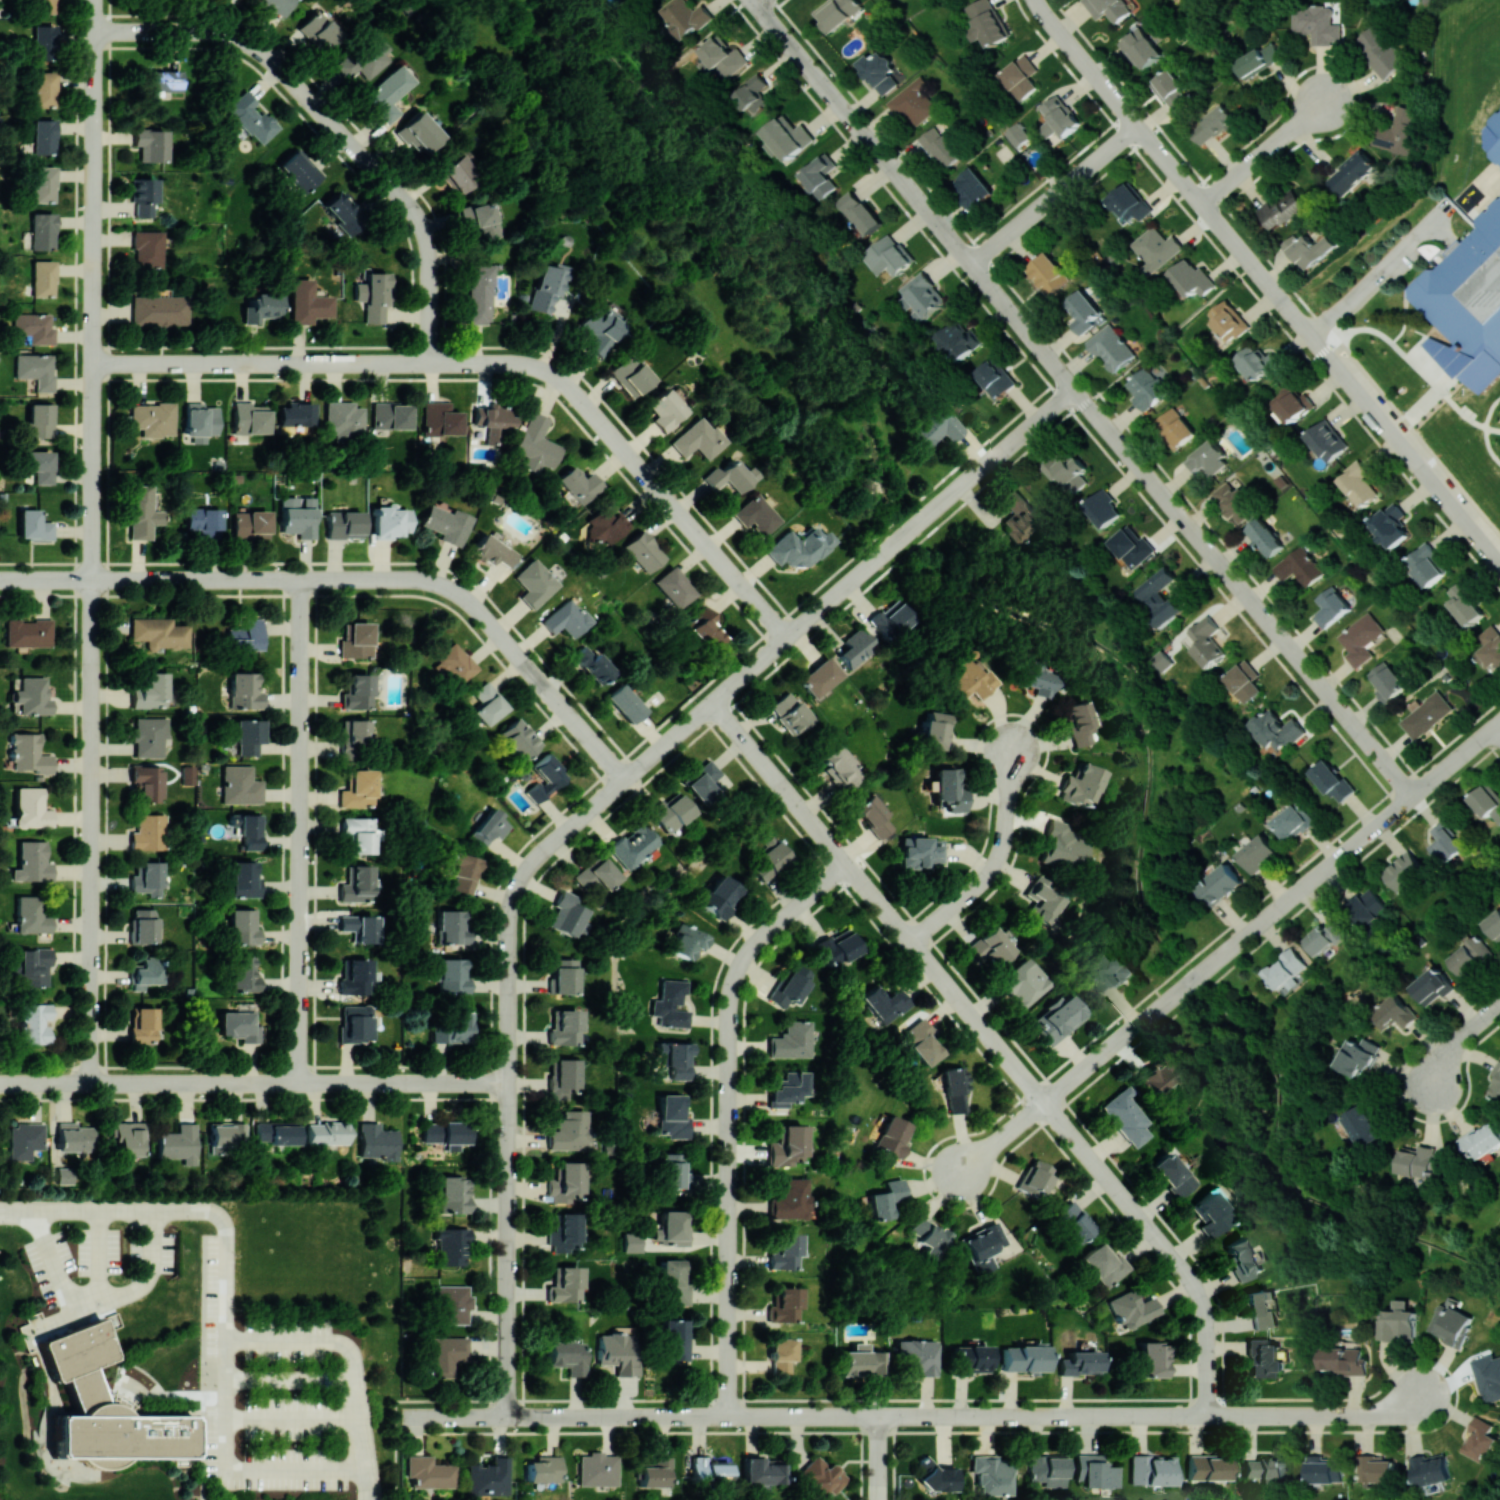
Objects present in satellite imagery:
road: (759, 2)
road: (780, 2)
building: (42, 6)
building: (278, 6)
building: (1108, 8)
building: (836, 12)
road: (95, 16)
building: (685, 16)
building: (987, 22)
building: (1315, 23)
building: (318, 31)
road: (697, 38)
building: (42, 42)
building: (1140, 47)
building: (1380, 52)
building: (364, 57)
building: (722, 58)
building: (1258, 59)
building: (878, 71)
building: (1021, 76)
building: (1498, 80)
building: (165, 81)
road: (639, 86)
building: (42, 89)
building: (1171, 89)
building: (389, 93)
building: (754, 94)
road: (626, 97)
building: (1479, 102)
building: (1059, 117)
building: (252, 118)
road: (334, 124)
building: (1214, 124)
building: (1496, 124)
building: (1397, 130)
building: (420, 133)
building: (1016, 133)
building: (42, 136)
building: (787, 137)
building: (149, 143)
building: (943, 147)
road: (1263, 151)
road: (1157, 154)
building: (1496, 155)
building: (300, 170)
building: (458, 172)
building: (1350, 173)
building: (820, 175)
building: (42, 184)
building: (973, 187)
building: (142, 196)
road: (1052, 196)
building: (1129, 203)
building: (1282, 209)
building: (343, 212)
building: (859, 212)
road: (1434, 216)
building: (480, 219)
building: (41, 230)
road: (1440, 232)
building: (146, 248)
building: (1156, 249)
building: (1309, 249)
building: (888, 255)
road: (1275, 268)
building: (1047, 273)
building: (1191, 277)
building: (42, 278)
road: (1370, 279)
building: (548, 288)
building: (479, 294)
building: (1470, 294)
building: (921, 295)
building: (372, 296)
building: (305, 302)
road: (94, 306)
building: (259, 307)
building: (158, 310)
building: (1083, 312)
building: (1228, 320)
building: (33, 327)
building: (599, 329)
building: (958, 339)
building: (1111, 348)
road: (1407, 357)
road: (1046, 358)
building: (1258, 362)
road: (501, 364)
building: (35, 370)
building: (629, 375)
building: (996, 378)
road: (1351, 386)
building: (1145, 387)
road: (1440, 390)
building: (1292, 403)
building: (665, 409)
building: (297, 414)
building: (391, 415)
building: (493, 417)
building: (153, 418)
building: (250, 418)
building: (440, 418)
building: (39, 420)
building: (200, 421)
building: (343, 421)
building: (935, 426)
building: (1175, 427)
road: (1484, 428)
building: (698, 438)
building: (1327, 440)
building: (537, 444)
building: (1207, 459)
building: (39, 465)
building: (1067, 471)
road: (977, 472)
building: (727, 476)
building: (1358, 484)
building: (578, 486)
building: (1235, 502)
building: (1102, 508)
building: (140, 511)
building: (755, 514)
road: (1460, 514)
building: (297, 516)
building: (1022, 518)
building: (203, 521)
building: (389, 521)
building: (344, 524)
building: (447, 524)
building: (1391, 524)
building: (33, 525)
building: (250, 525)
building: (606, 525)
building: (1264, 537)
building: (1131, 546)
building: (798, 548)
building: (492, 550)
building: (643, 551)
building: (1427, 564)
building: (1299, 566)
road: (860, 576)
road: (217, 580)
building: (534, 582)
building: (674, 587)
park: (951, 591)
building: (1161, 595)
building: (1465, 604)
building: (1330, 606)
building: (566, 618)
building: (891, 619)
road: (491, 624)
building: (706, 627)
building: (28, 632)
building: (159, 632)
building: (245, 635)
building: (1360, 638)
building: (355, 640)
building: (1207, 641)
building: (1491, 646)
building: (855, 648)
building: (1161, 660)
building: (592, 663)
building: (454, 664)
building: (820, 677)
building: (967, 680)
building: (1039, 680)
building: (1244, 681)
building: (1389, 681)
road: (541, 683)
building: (150, 691)
building: (242, 691)
building: (356, 691)
building: (32, 696)
building: (489, 703)
building: (625, 703)
building: (789, 712)
building: (1426, 714)
building: (1078, 722)
road: (692, 723)
road: (1353, 726)
road: (1497, 729)
building: (935, 730)
building: (1276, 730)
building: (355, 732)
road: (586, 734)
building: (247, 735)
building: (149, 736)
building: (520, 738)
building: (28, 753)
road: (1386, 765)
building: (838, 767)
building: (187, 774)
building: (546, 777)
building: (1332, 780)
building: (147, 782)
building: (703, 782)
building: (239, 785)
building: (1081, 785)
building: (949, 788)
building: (357, 789)
building: (1487, 801)
building: (30, 808)
building: (670, 811)
building: (872, 816)
building: (1293, 822)
building: (489, 827)
building: (247, 829)
road: (92, 831)
road: (301, 831)
building: (149, 832)
building: (358, 833)
building: (1443, 843)
building: (633, 845)
building: (1063, 846)
building: (921, 851)
building: (1258, 853)
building: (770, 857)
road: (1330, 859)
building: (31, 862)
road: (997, 862)
building: (1402, 870)
building: (464, 871)
building: (596, 875)
building: (147, 878)
building: (244, 879)
building: (355, 883)
building: (1220, 884)
building: (721, 896)
building: (1043, 897)
building: (1367, 907)
building: (567, 914)
building: (31, 915)
building: (144, 925)
building: (1494, 925)
building: (242, 926)
building: (359, 927)
building: (452, 927)
building: (1324, 936)
building: (686, 941)
building: (989, 946)
building: (838, 947)
building: (1472, 955)
building: (33, 967)
building: (1285, 970)
building: (1111, 972)
building: (146, 973)
building: (243, 973)
building: (452, 975)
building: (563, 975)
building: (354, 976)
building: (1023, 982)
building: (790, 985)
building: (1432, 986)
building: (884, 1003)
building: (671, 1004)
road: (1151, 1012)
building: (1394, 1012)
building: (1058, 1018)
building: (355, 1022)
building: (34, 1023)
building: (240, 1023)
building: (143, 1025)
building: (563, 1026)
building: (452, 1029)
road: (1455, 1039)
building: (791, 1040)
building: (922, 1042)
road: (998, 1045)
building: (1358, 1056)
building: (676, 1058)
road: (1092, 1063)
building: (1162, 1073)
building: (561, 1077)
building: (1496, 1082)
road: (255, 1083)
building: (955, 1088)
building: (787, 1089)
building: (673, 1116)
road: (731, 1116)
building: (1126, 1116)
building: (1365, 1125)
road: (509, 1128)
building: (570, 1131)
building: (327, 1132)
building: (276, 1133)
building: (446, 1133)
building: (128, 1136)
building: (225, 1136)
building: (893, 1136)
building: (74, 1137)
building: (24, 1140)
building: (1481, 1140)
building: (377, 1141)
road: (999, 1141)
building: (178, 1143)
building: (786, 1146)
building: (1417, 1161)
building: (673, 1171)
building: (1172, 1174)
building: (1036, 1178)
building: (565, 1182)
road: (927, 1185)
building: (454, 1194)
building: (790, 1199)
building: (885, 1199)
road: (172, 1210)
building: (1211, 1213)
building: (1073, 1223)
building: (671, 1227)
building: (563, 1232)
building: (930, 1236)
building: (632, 1242)
building: (452, 1245)
building: (983, 1247)
road: (97, 1252)
building: (784, 1252)
building: (1241, 1257)
building: (1105, 1264)
building: (673, 1282)
building: (565, 1284)
road: (99, 1294)
building: (453, 1304)
building: (785, 1304)
building: (1133, 1308)
building: (1260, 1309)
building: (1399, 1322)
building: (1451, 1324)
building: (674, 1339)
building: (618, 1352)
building: (447, 1354)
building: (780, 1355)
building: (567, 1356)
building: (917, 1356)
building: (1023, 1358)
building: (971, 1359)
building: (1153, 1359)
building: (1264, 1359)
building: (862, 1360)
building: (1342, 1360)
road: (353, 1361)
building: (1079, 1363)
road: (1447, 1371)
building: (1488, 1376)
road: (291, 1377)
building: (105, 1405)
road: (695, 1416)
road: (786, 1416)
road: (858, 1416)
road: (1153, 1416)
road: (514, 1417)
road: (640, 1417)
road: (292, 1418)
building: (1482, 1439)
road: (879, 1458)
road: (396, 1466)
road: (233, 1467)
building: (1208, 1467)
building: (1264, 1467)
building: (1375, 1468)
building: (544, 1469)
building: (598, 1469)
building: (1048, 1469)
building: (1152, 1469)
building: (1324, 1469)
building: (1430, 1469)
building: (761, 1470)
building: (708, 1471)
building: (1095, 1471)
building: (430, 1472)
building: (655, 1472)
building: (994, 1474)
building: (933, 1475)
building: (821, 1476)
building: (489, 1477)

